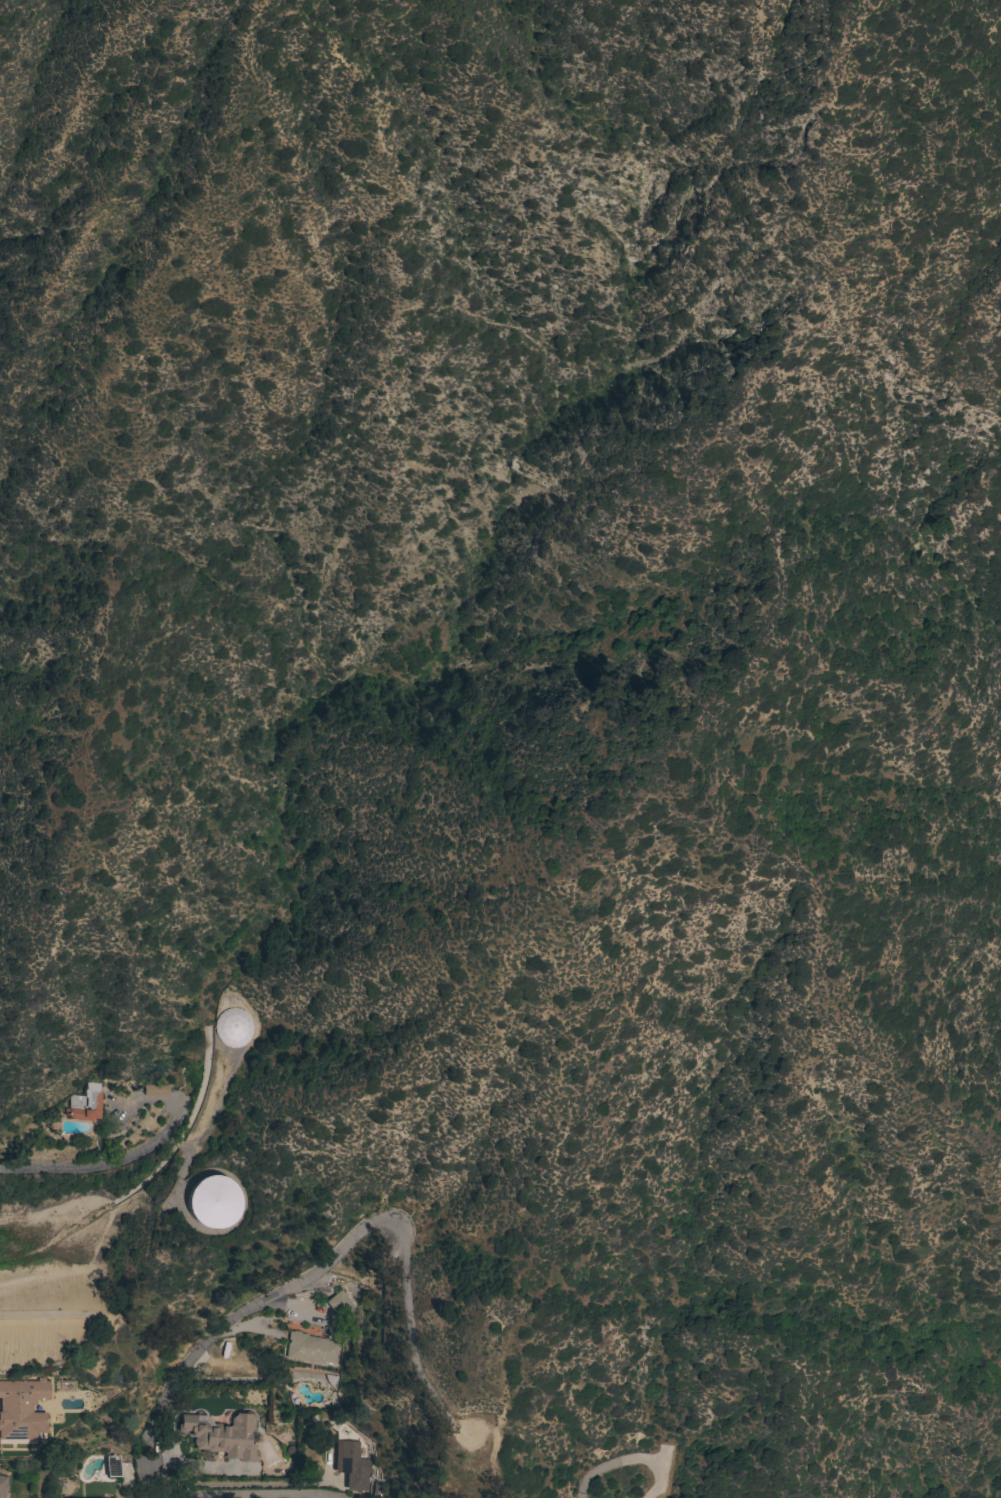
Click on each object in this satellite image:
building: (234, 1028)
building: (156, 1090)
building: (85, 1105)
road: (142, 1150)
road: (40, 1169)
building: (214, 1203)
storage tank: (214, 1203)
road: (315, 1270)
building: (341, 1305)
building: (311, 1349)
building: (27, 1405)
building: (222, 1436)
building: (113, 1466)
building: (352, 1466)
building: (2, 1486)
building: (378, 1490)
road: (242, 1495)

